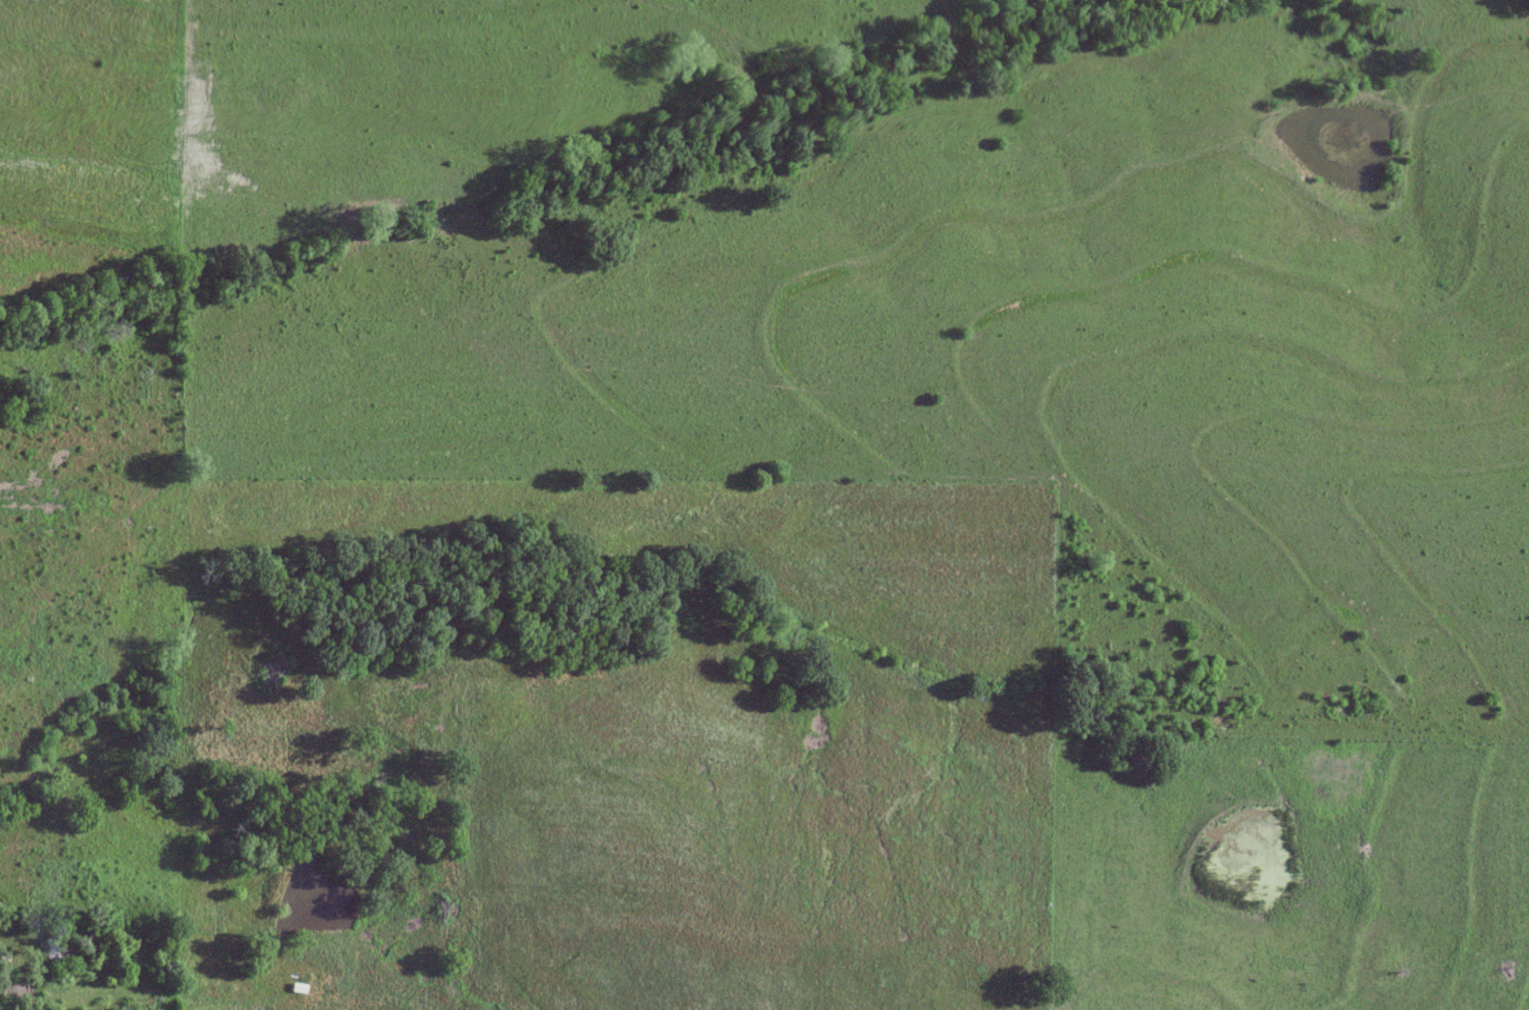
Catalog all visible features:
building: (3, 1009)

